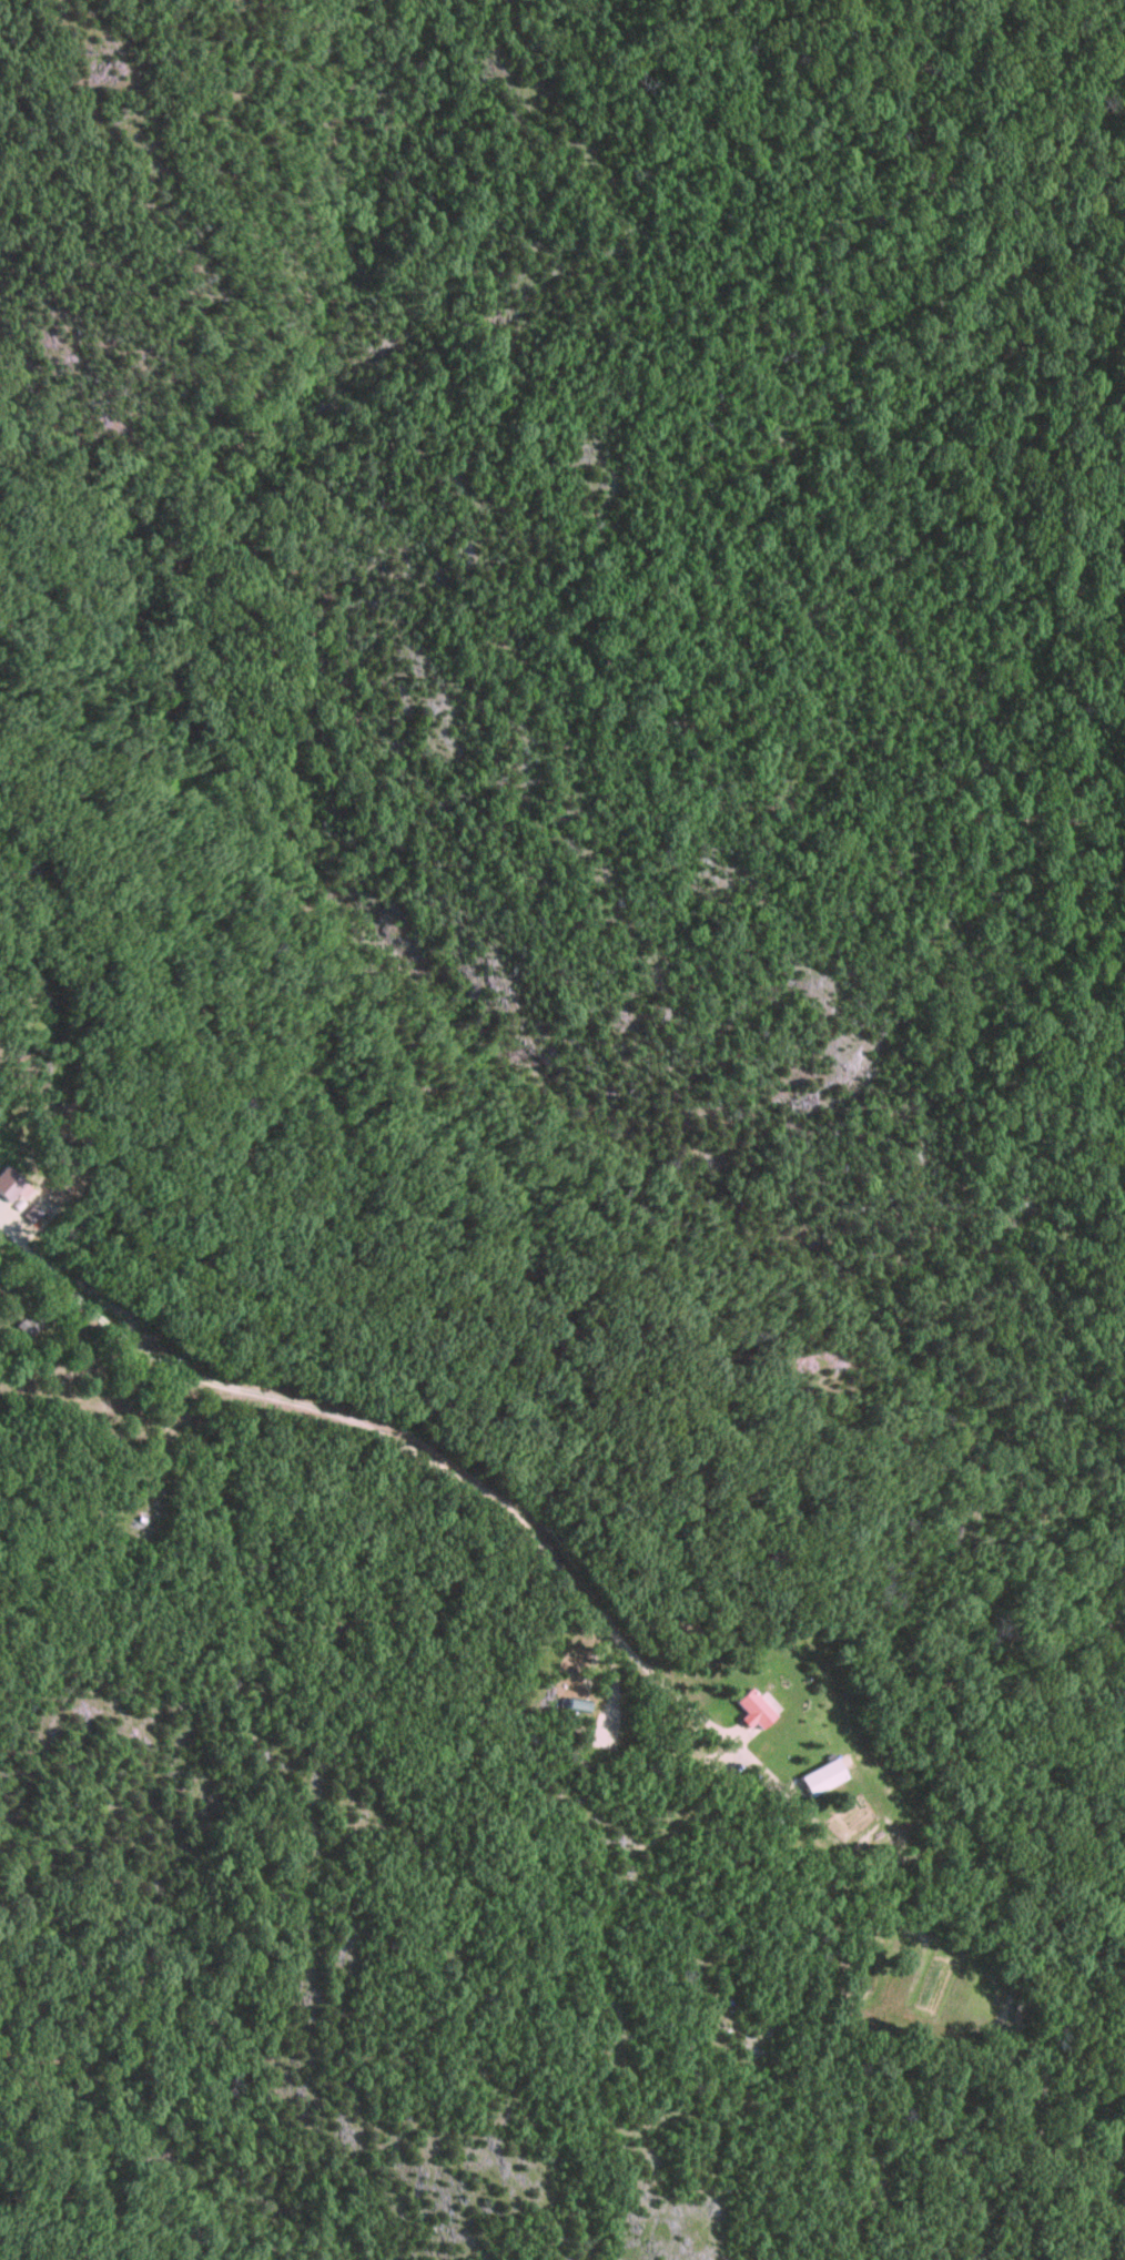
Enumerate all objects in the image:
building: (577, 1707)
building: (752, 1710)
building: (820, 1780)

